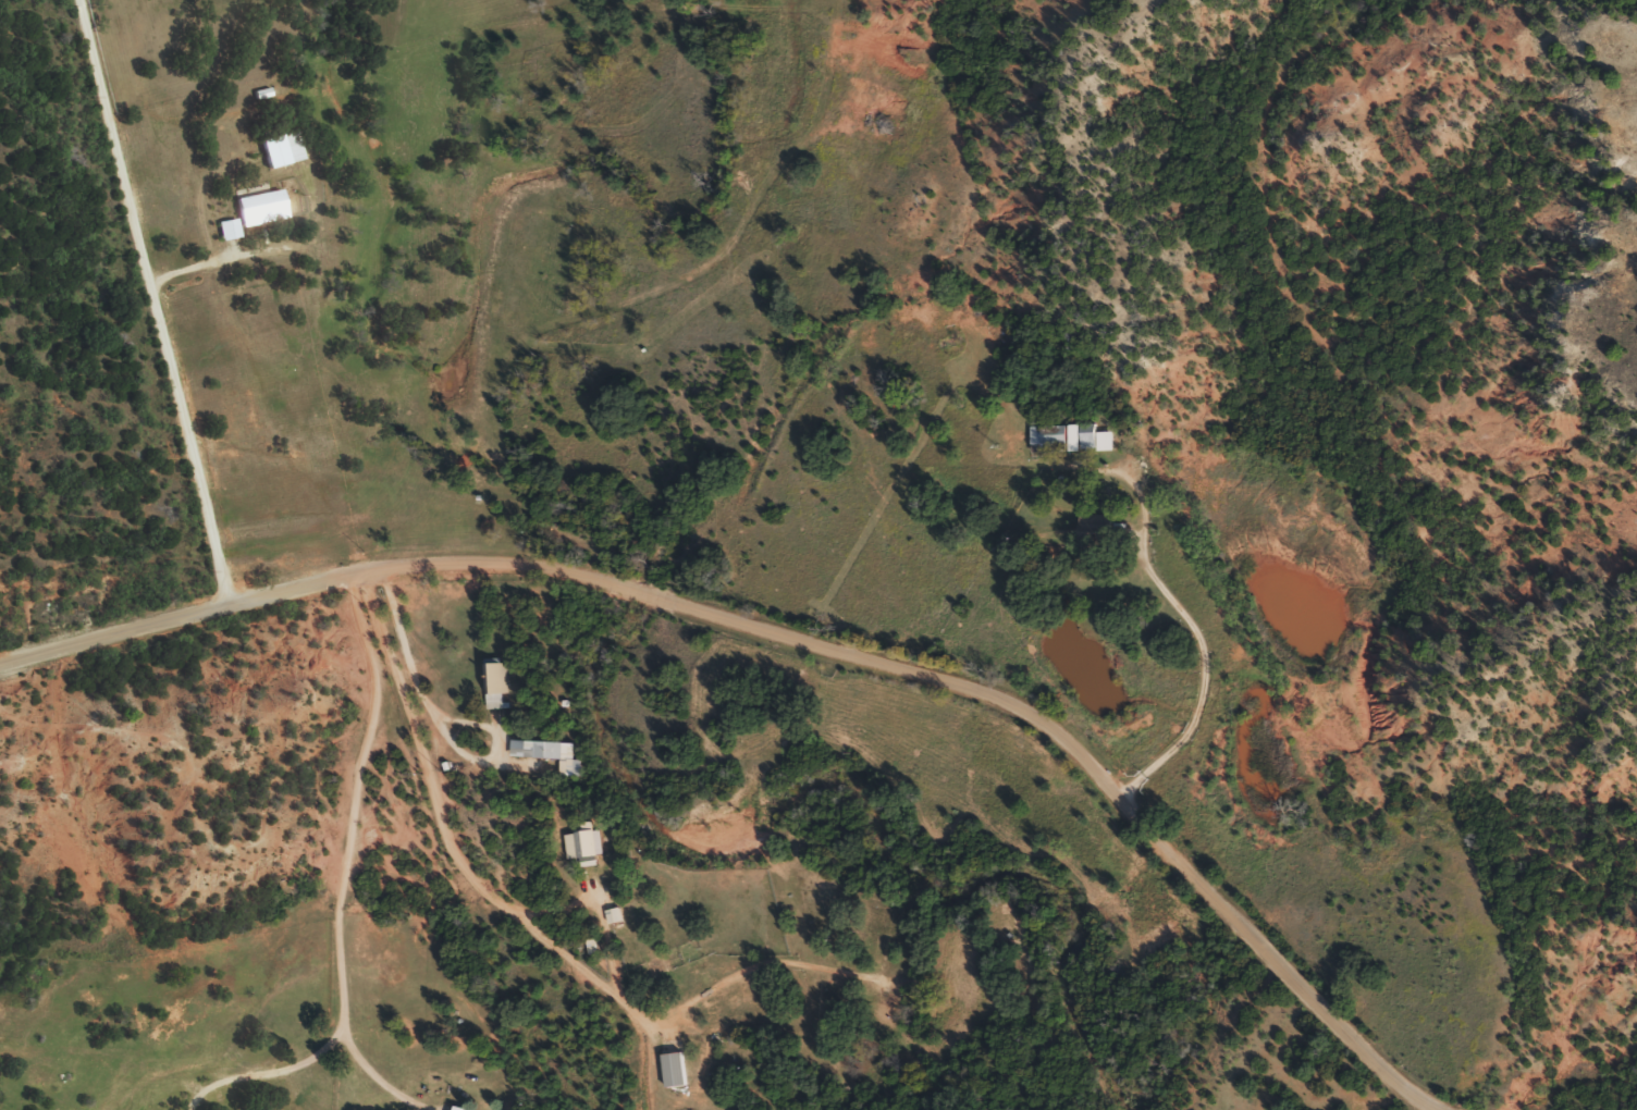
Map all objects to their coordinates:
building: (281, 158)
building: (261, 217)
building: (227, 237)
road: (193, 275)
road: (149, 298)
building: (1047, 446)
building: (1087, 447)
building: (1093, 533)
road: (1195, 630)
road: (807, 636)
building: (494, 692)
road: (434, 720)
building: (550, 763)
road: (442, 818)
building: (584, 853)
road: (343, 886)
building: (659, 975)

